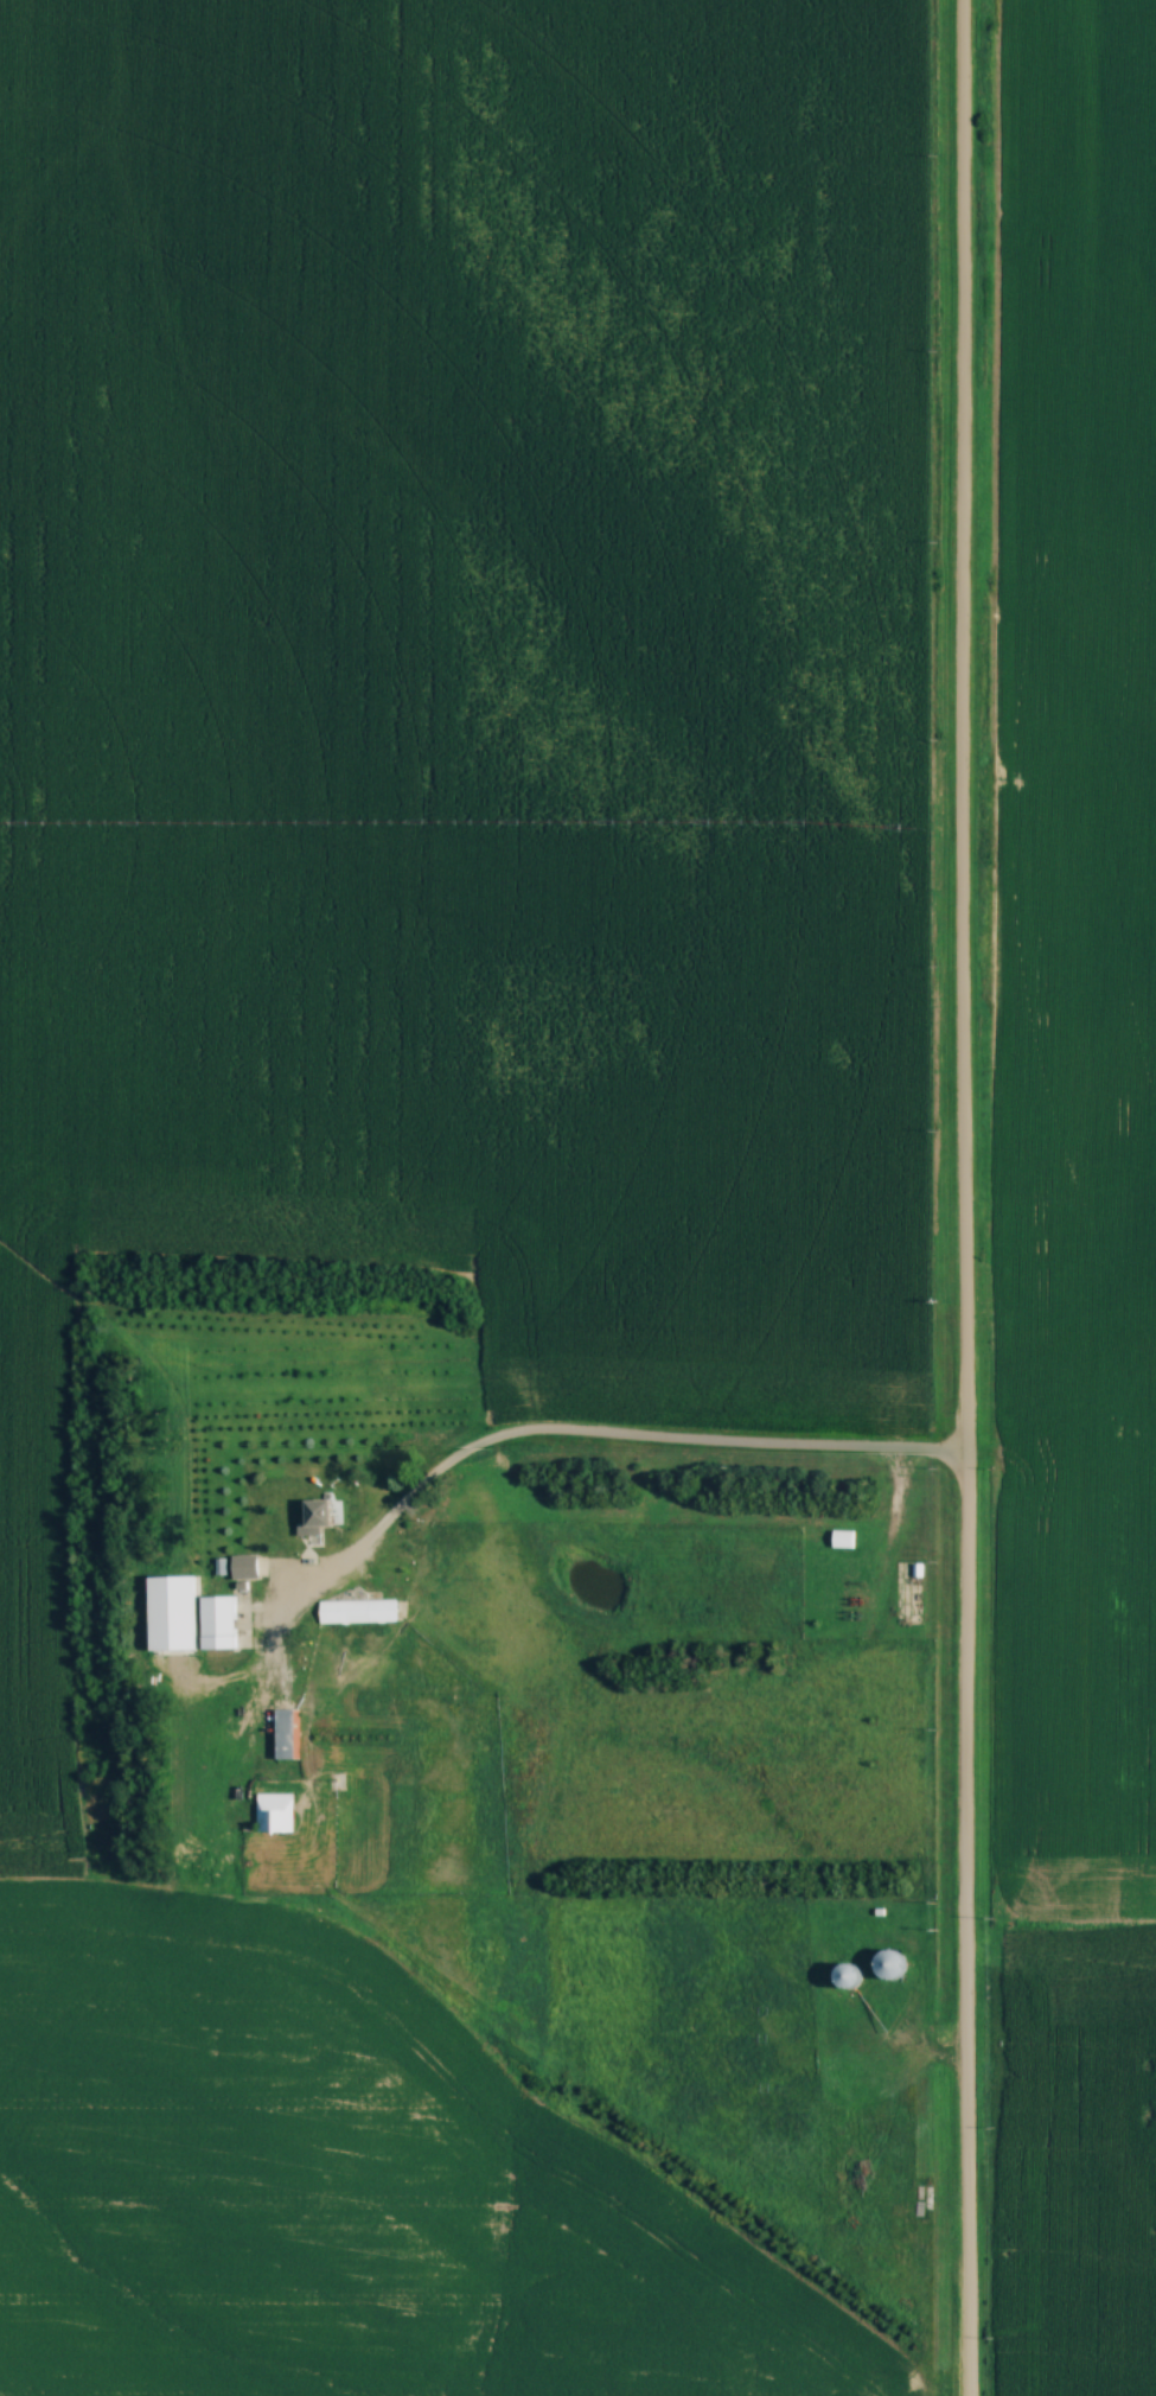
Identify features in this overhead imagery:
road: (962, 1197)
road: (598, 1440)
building: (267, 1465)
building: (317, 1522)
building: (247, 1569)
building: (912, 1594)
building: (360, 1614)
building: (222, 1629)
building: (287, 1735)
building: (276, 1814)
building: (892, 1967)

